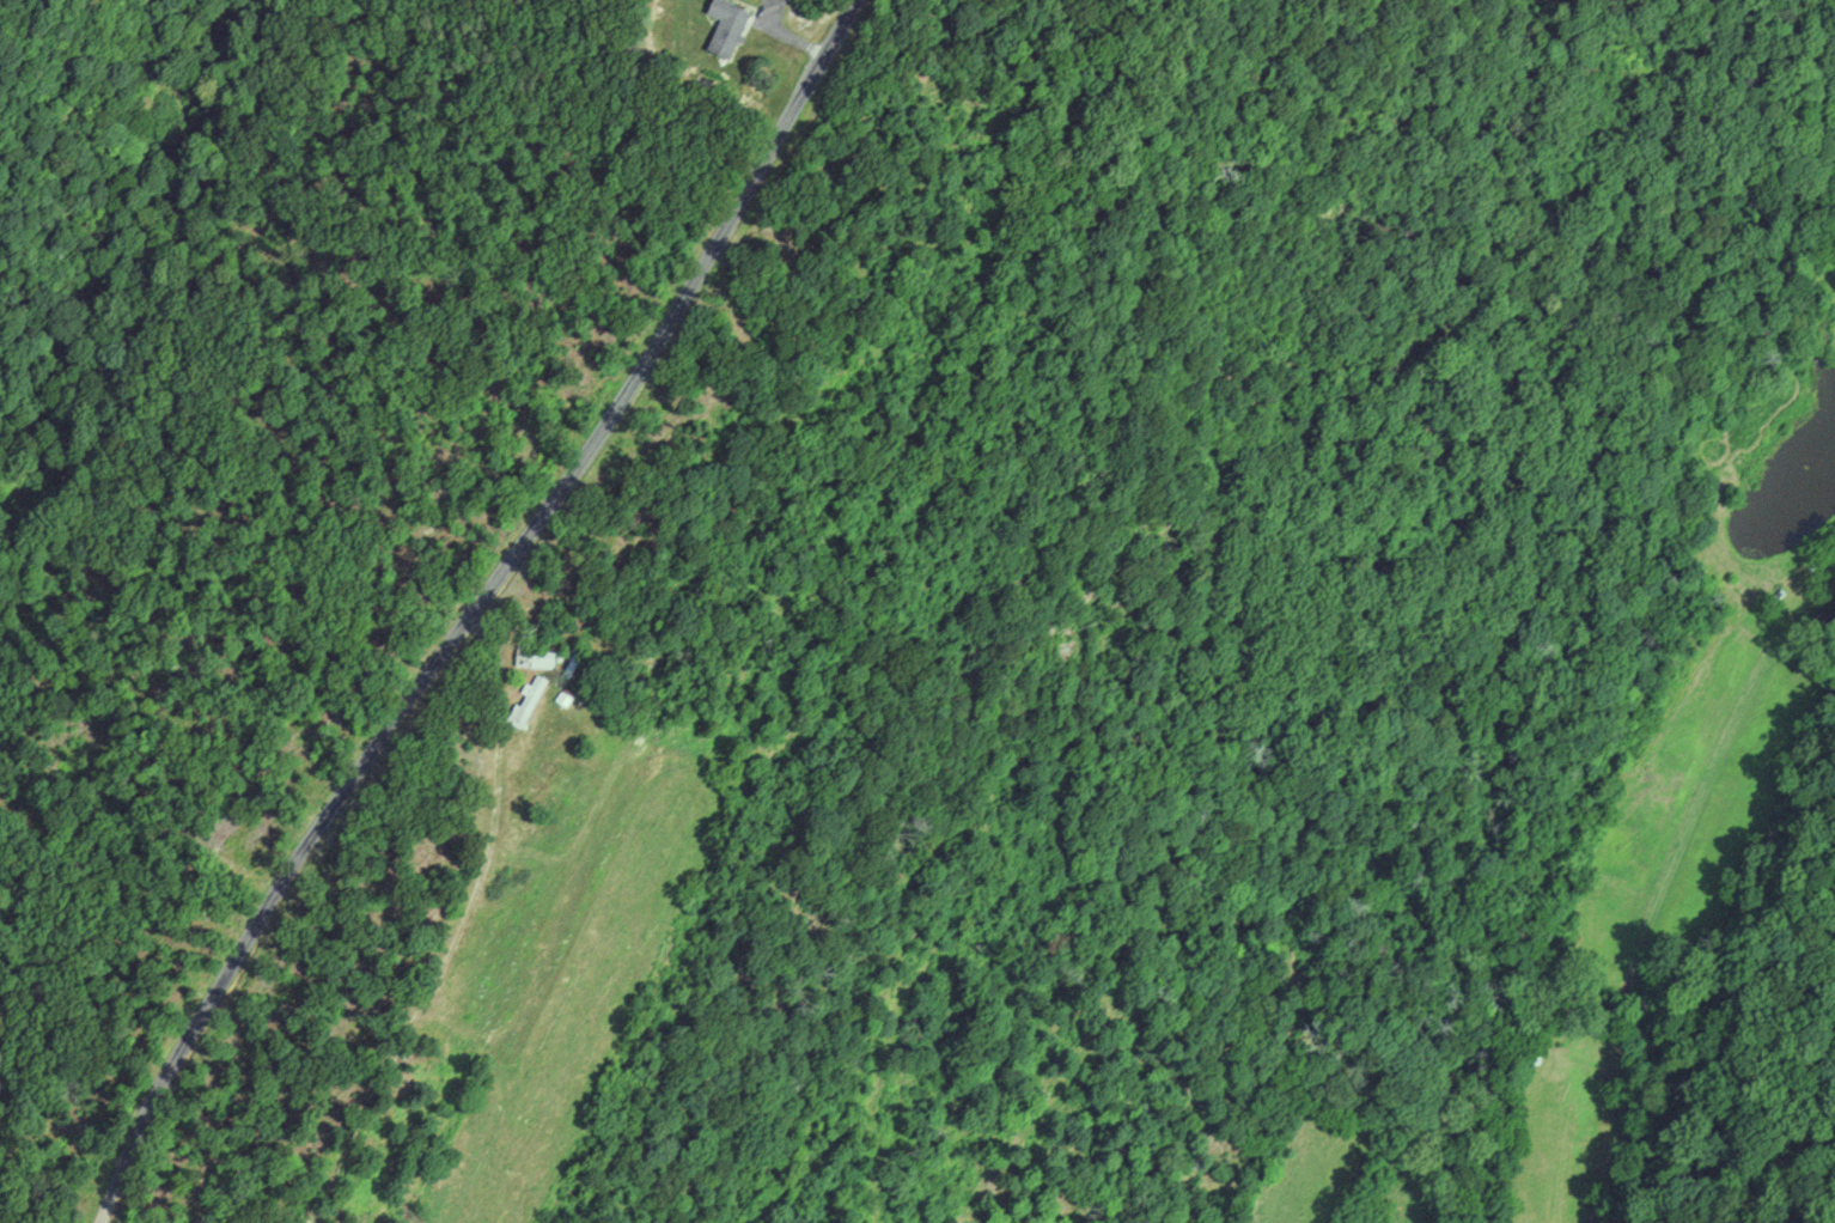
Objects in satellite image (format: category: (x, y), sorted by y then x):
building: (727, 16)
road: (475, 609)
building: (536, 659)
building: (526, 704)
road: (1653, 917)
road: (1775, 1161)

